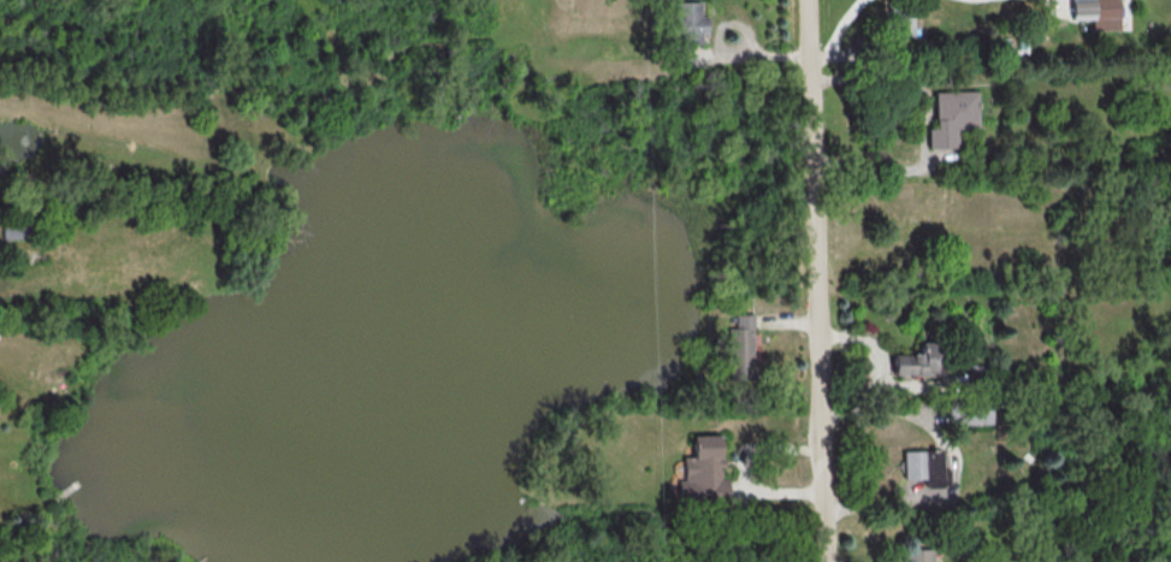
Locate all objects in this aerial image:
building: (1096, 12)
building: (900, 25)
building: (685, 29)
road: (834, 34)
road: (873, 78)
building: (951, 116)
road: (868, 172)
road: (814, 280)
building: (739, 348)
building: (919, 361)
building: (968, 413)
building: (925, 466)
building: (702, 471)
building: (917, 555)

